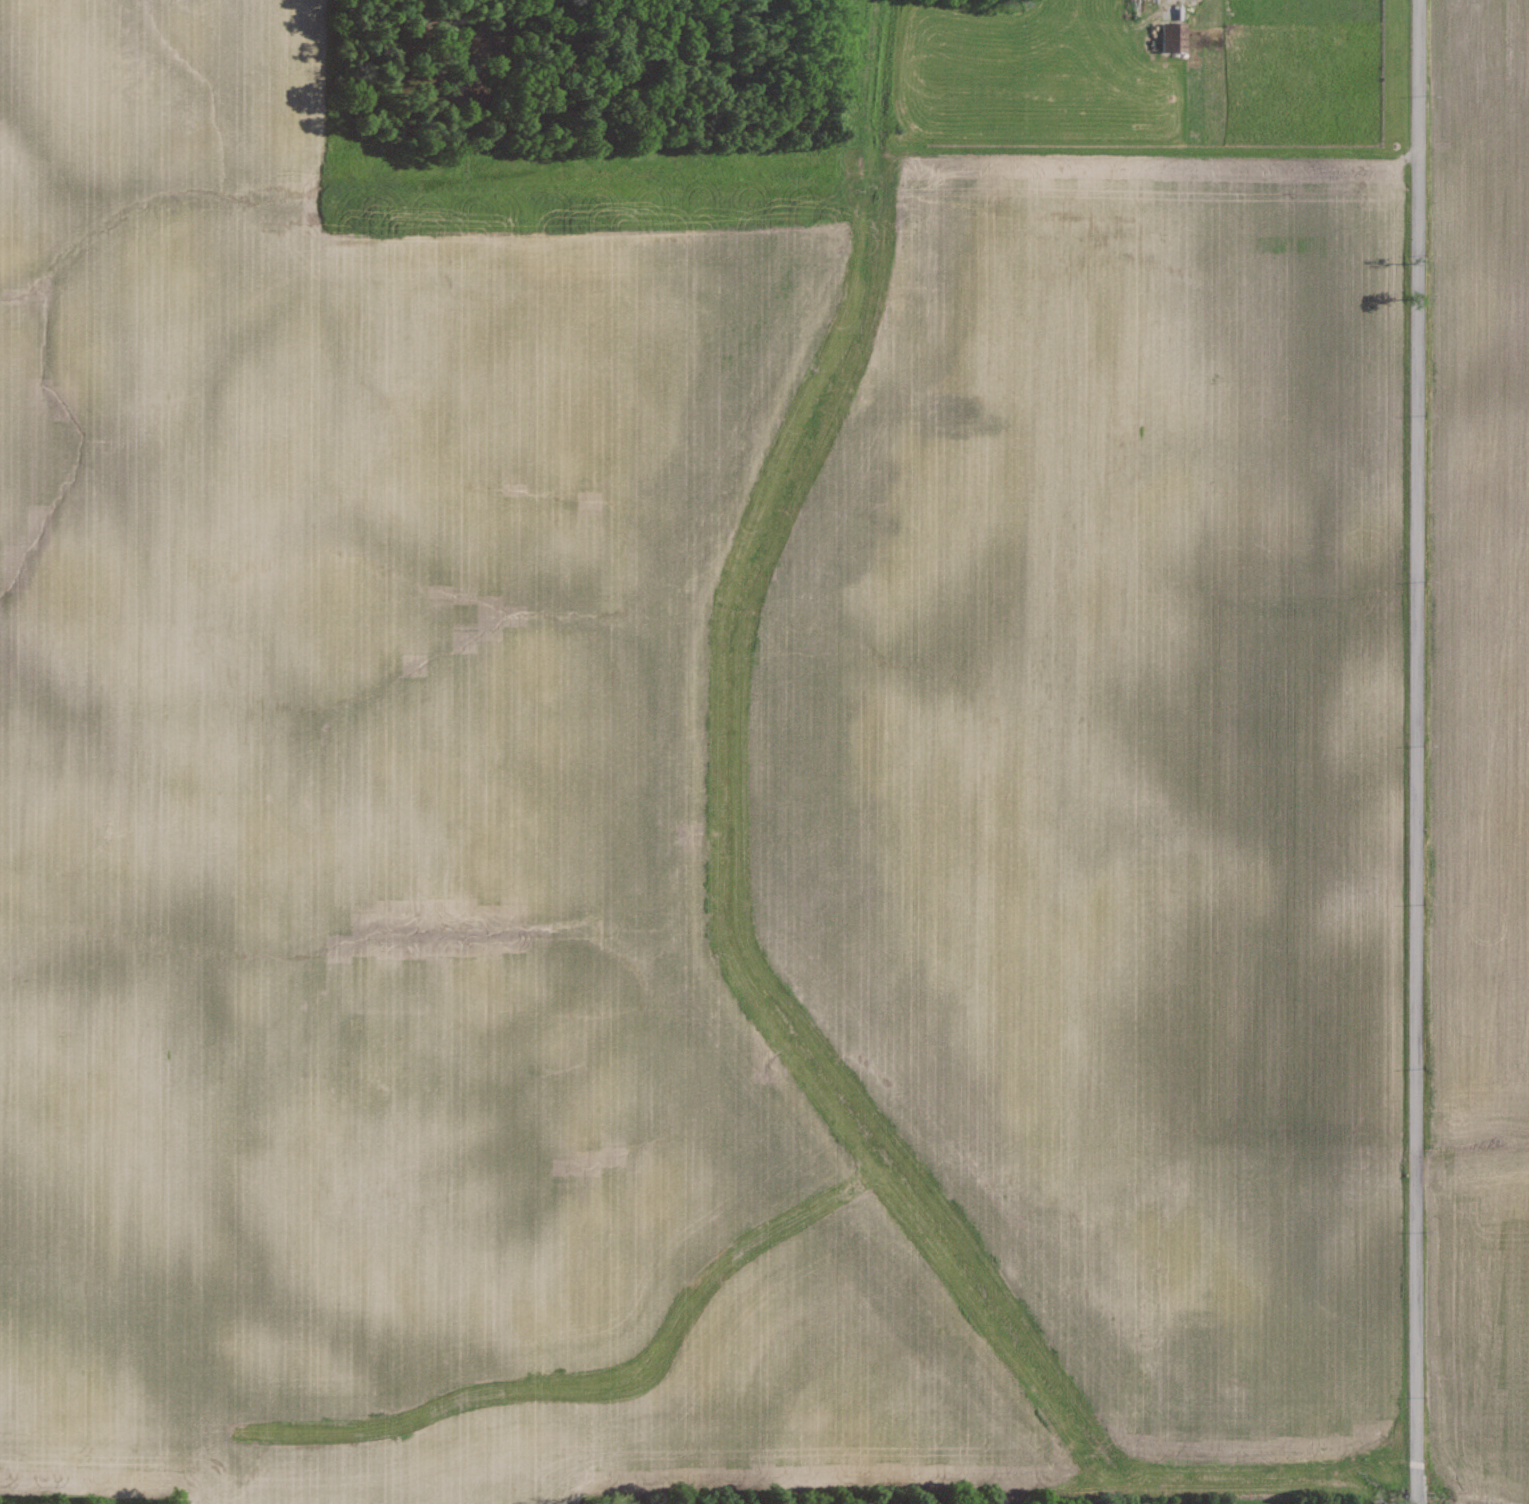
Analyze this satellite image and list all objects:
building: (1167, 37)
crop: (1476, 573)
road: (1417, 752)
crop: (1476, 1323)

